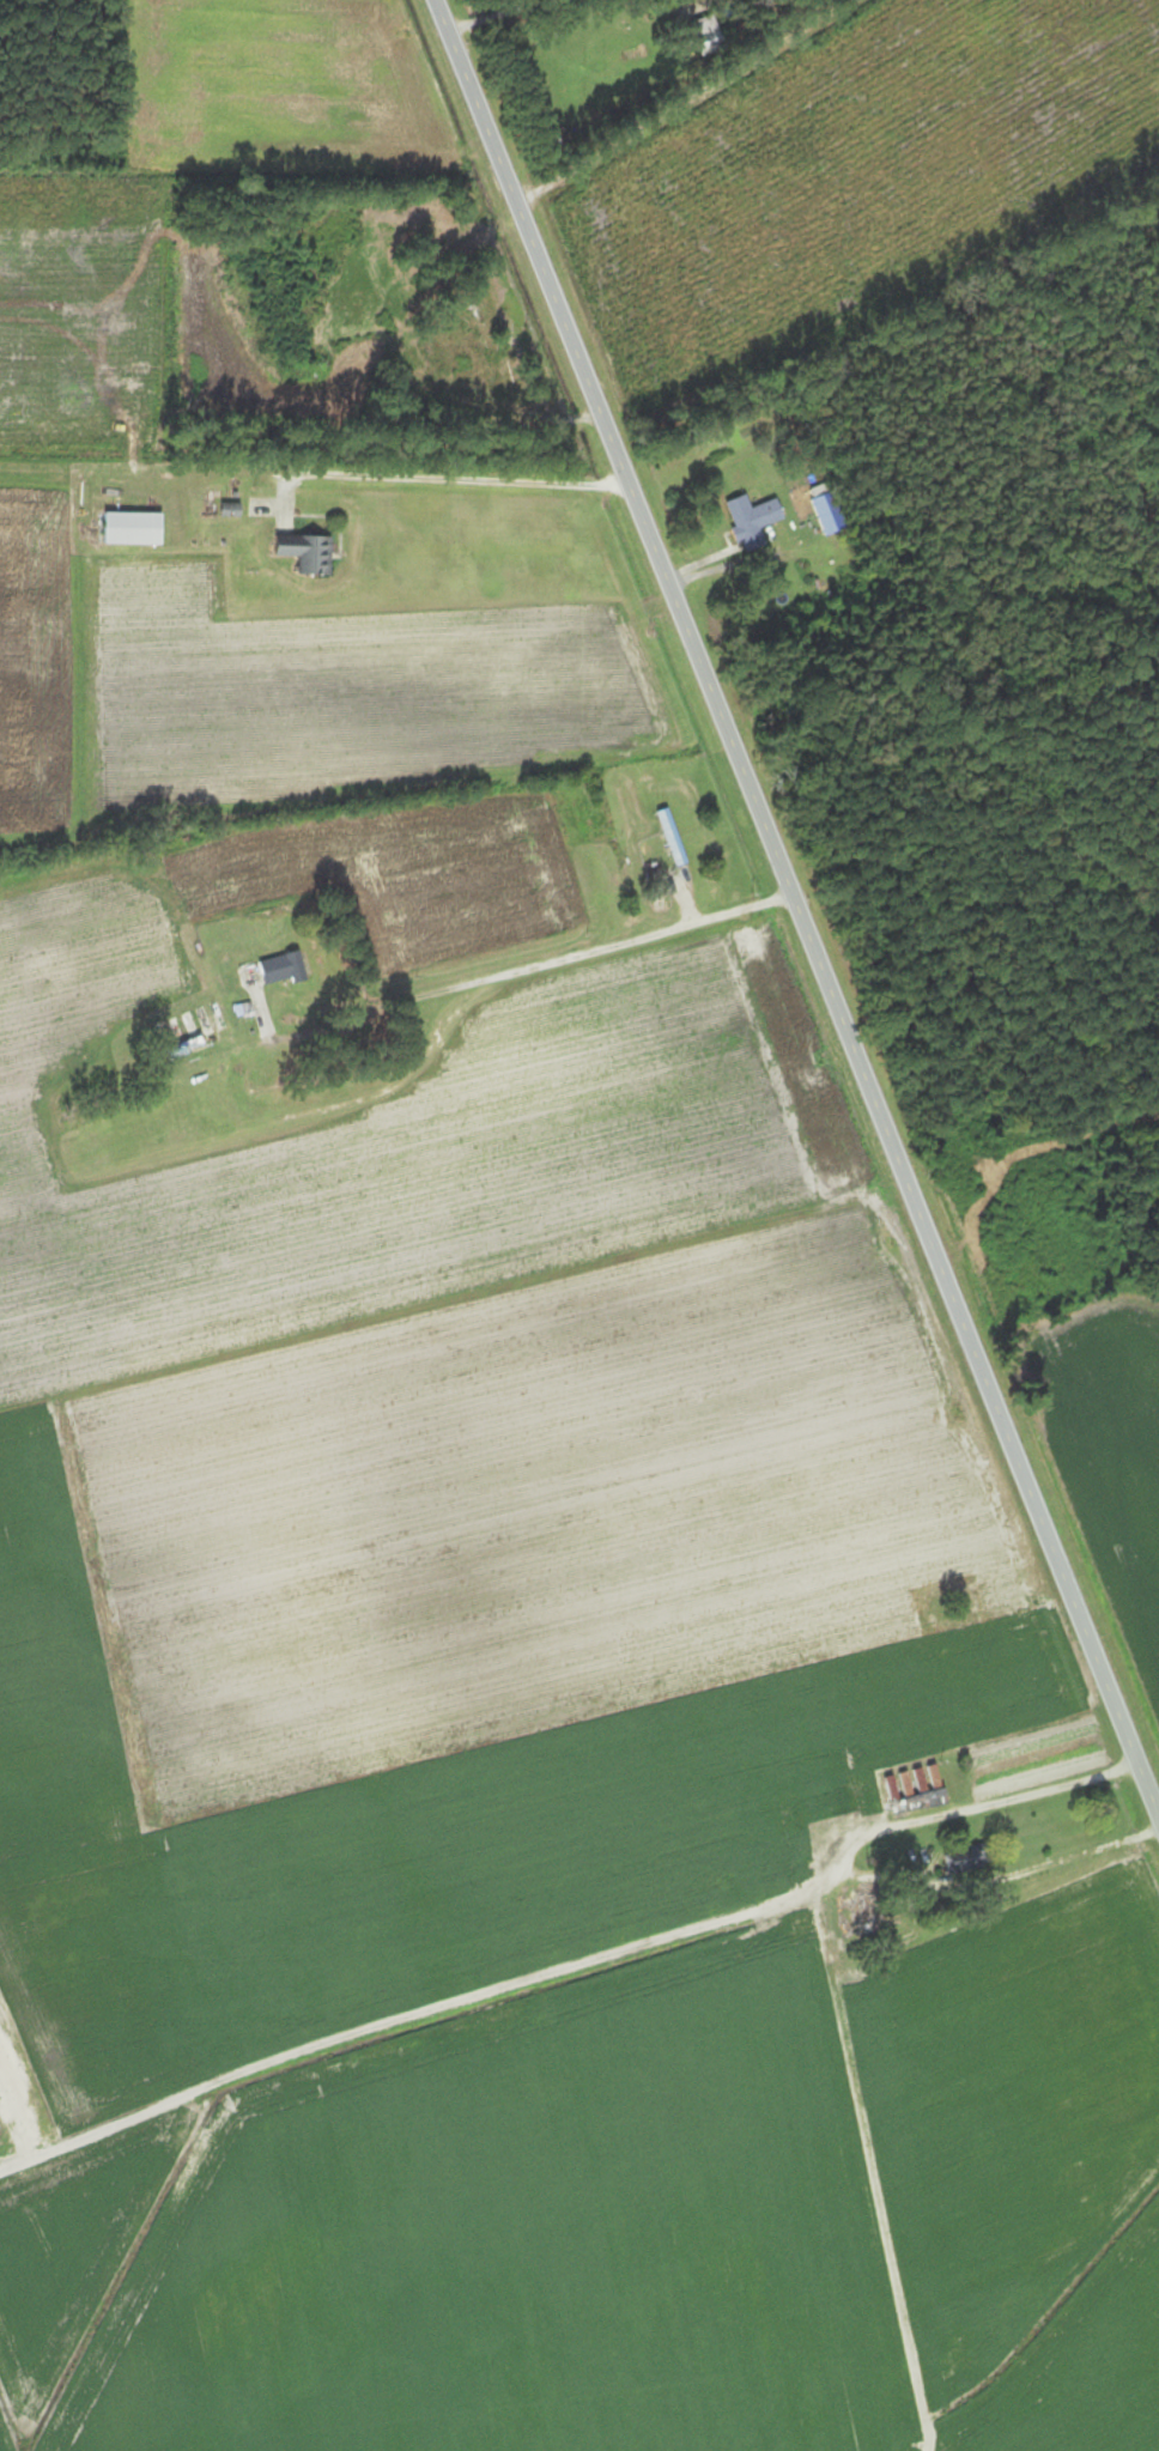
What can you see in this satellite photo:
building: (702, 34)
road: (682, 101)
building: (443, 341)
building: (480, 360)
road: (441, 480)
building: (818, 510)
building: (748, 521)
building: (129, 529)
building: (302, 553)
building: (669, 839)
road: (791, 893)
road: (89, 963)
road: (511, 966)
building: (278, 972)
road: (456, 1025)
building: (193, 1045)
building: (835, 1802)
building: (966, 1860)
road: (847, 1861)
building: (724, 1886)

